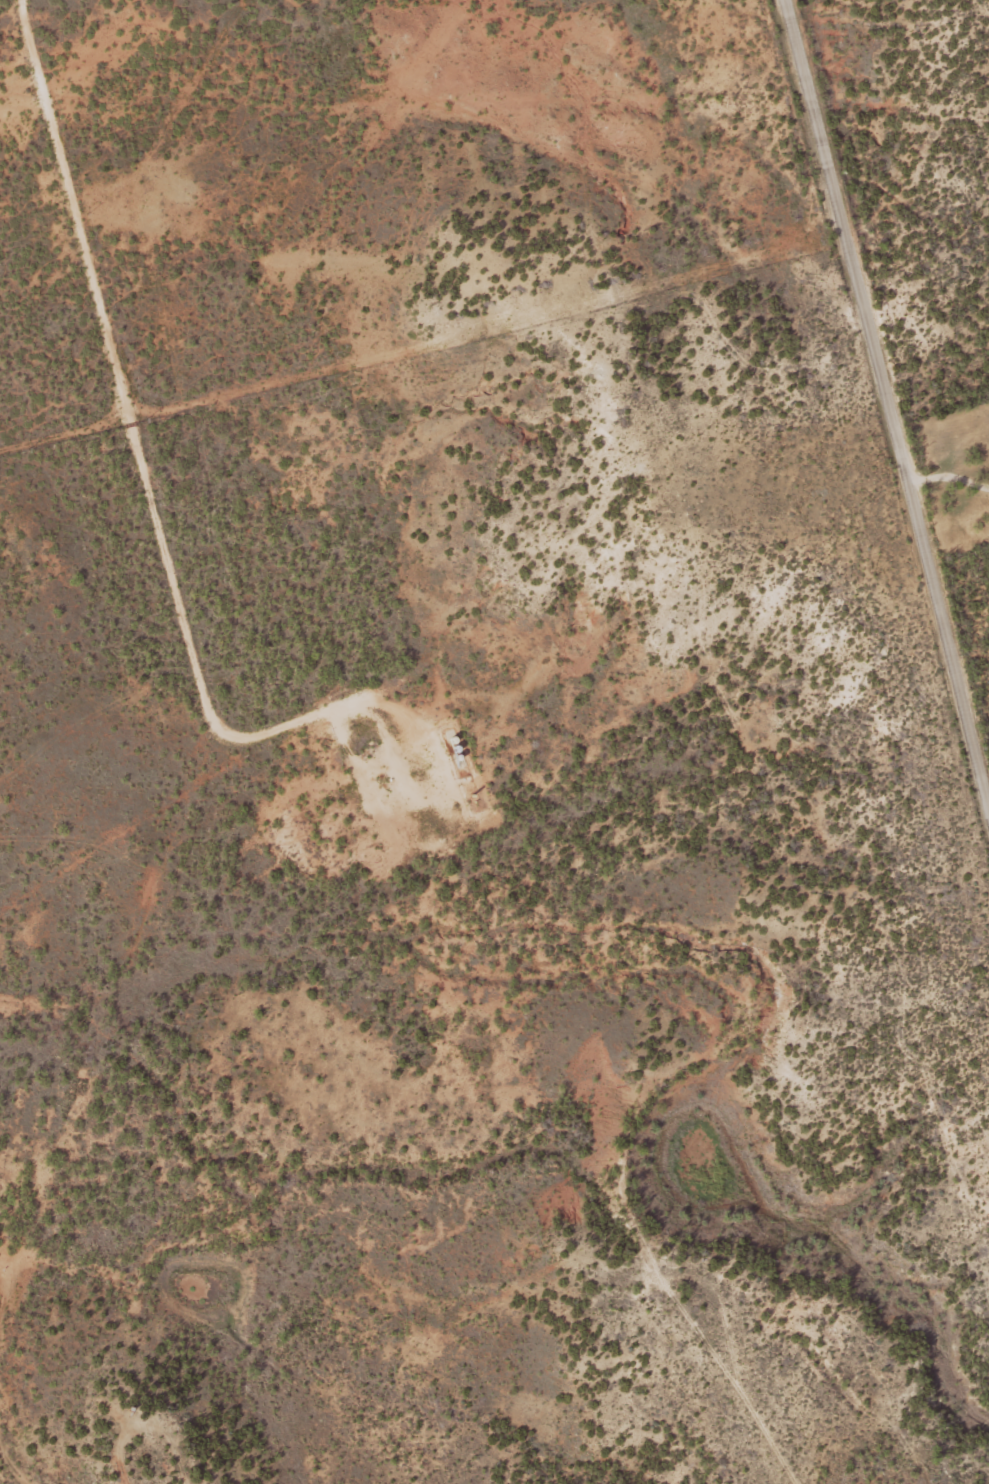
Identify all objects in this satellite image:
road: (874, 407)

